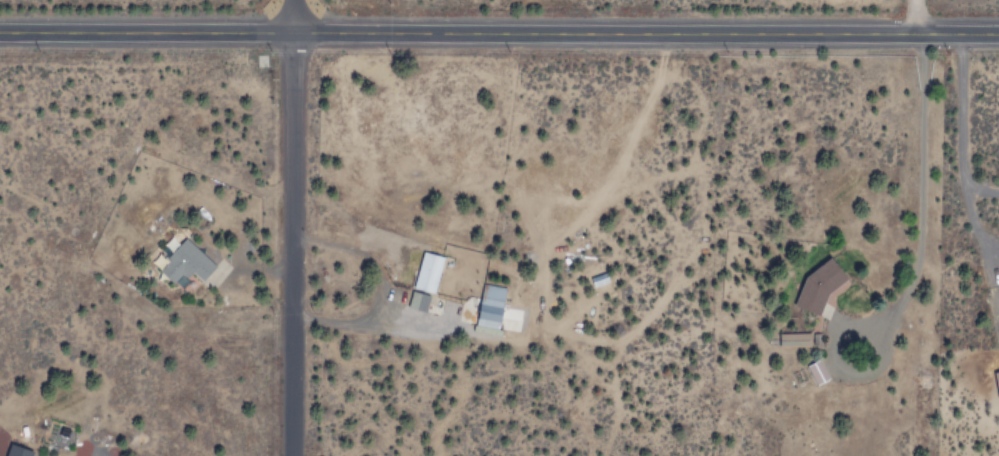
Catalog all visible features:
road: (296, 14)
road: (912, 14)
road: (499, 28)
road: (289, 242)
building: (185, 264)
building: (427, 273)
building: (817, 289)
building: (423, 305)
building: (489, 309)
building: (796, 339)
building: (816, 373)
building: (996, 385)
building: (17, 451)

